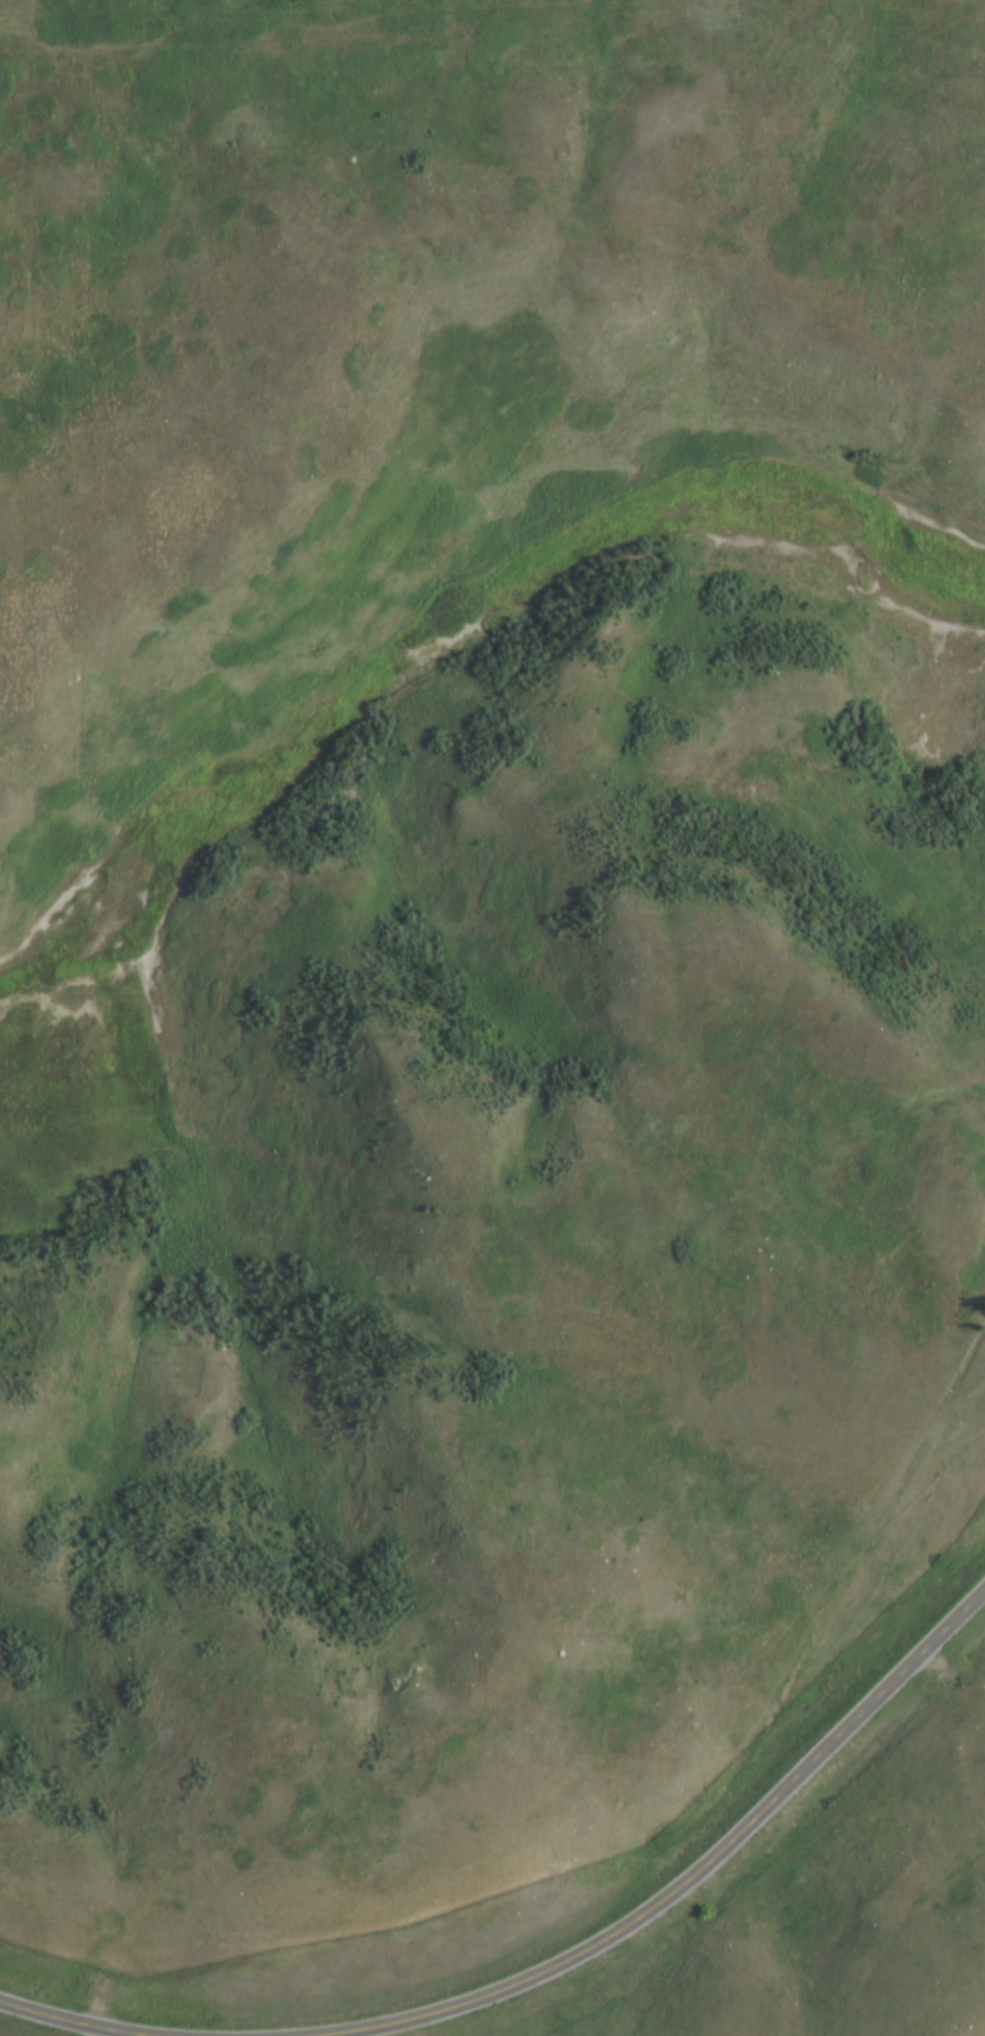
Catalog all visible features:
road: (689, 1874)
road: (104, 2028)

